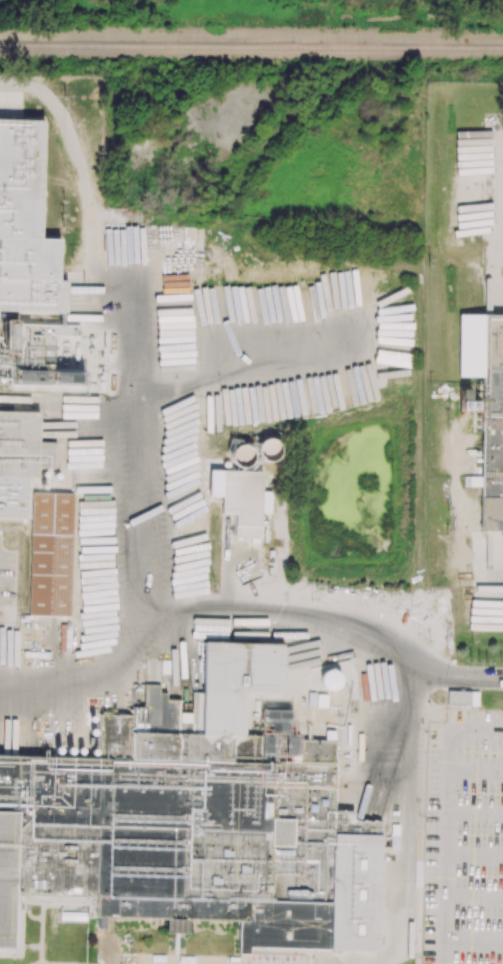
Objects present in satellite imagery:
railway: (251, 47)
railway: (342, 82)
road: (500, 242)
building: (0, 252)
road: (136, 334)
building: (28, 346)
building: (487, 406)
building: (20, 447)
building: (246, 458)
silo: (246, 458)
building: (247, 504)
building: (52, 554)
road: (325, 621)
building: (286, 660)
road: (74, 675)
building: (331, 678)
building: (140, 679)
building: (464, 697)
road: (477, 772)
road: (476, 812)
road: (448, 821)
road: (403, 822)
building: (364, 827)
building: (181, 829)
building: (395, 837)
parking lot: (465, 840)
road: (475, 852)
road: (475, 895)
road: (71, 923)
building: (180, 926)
road: (474, 938)
road: (177, 949)
building: (258, 951)

